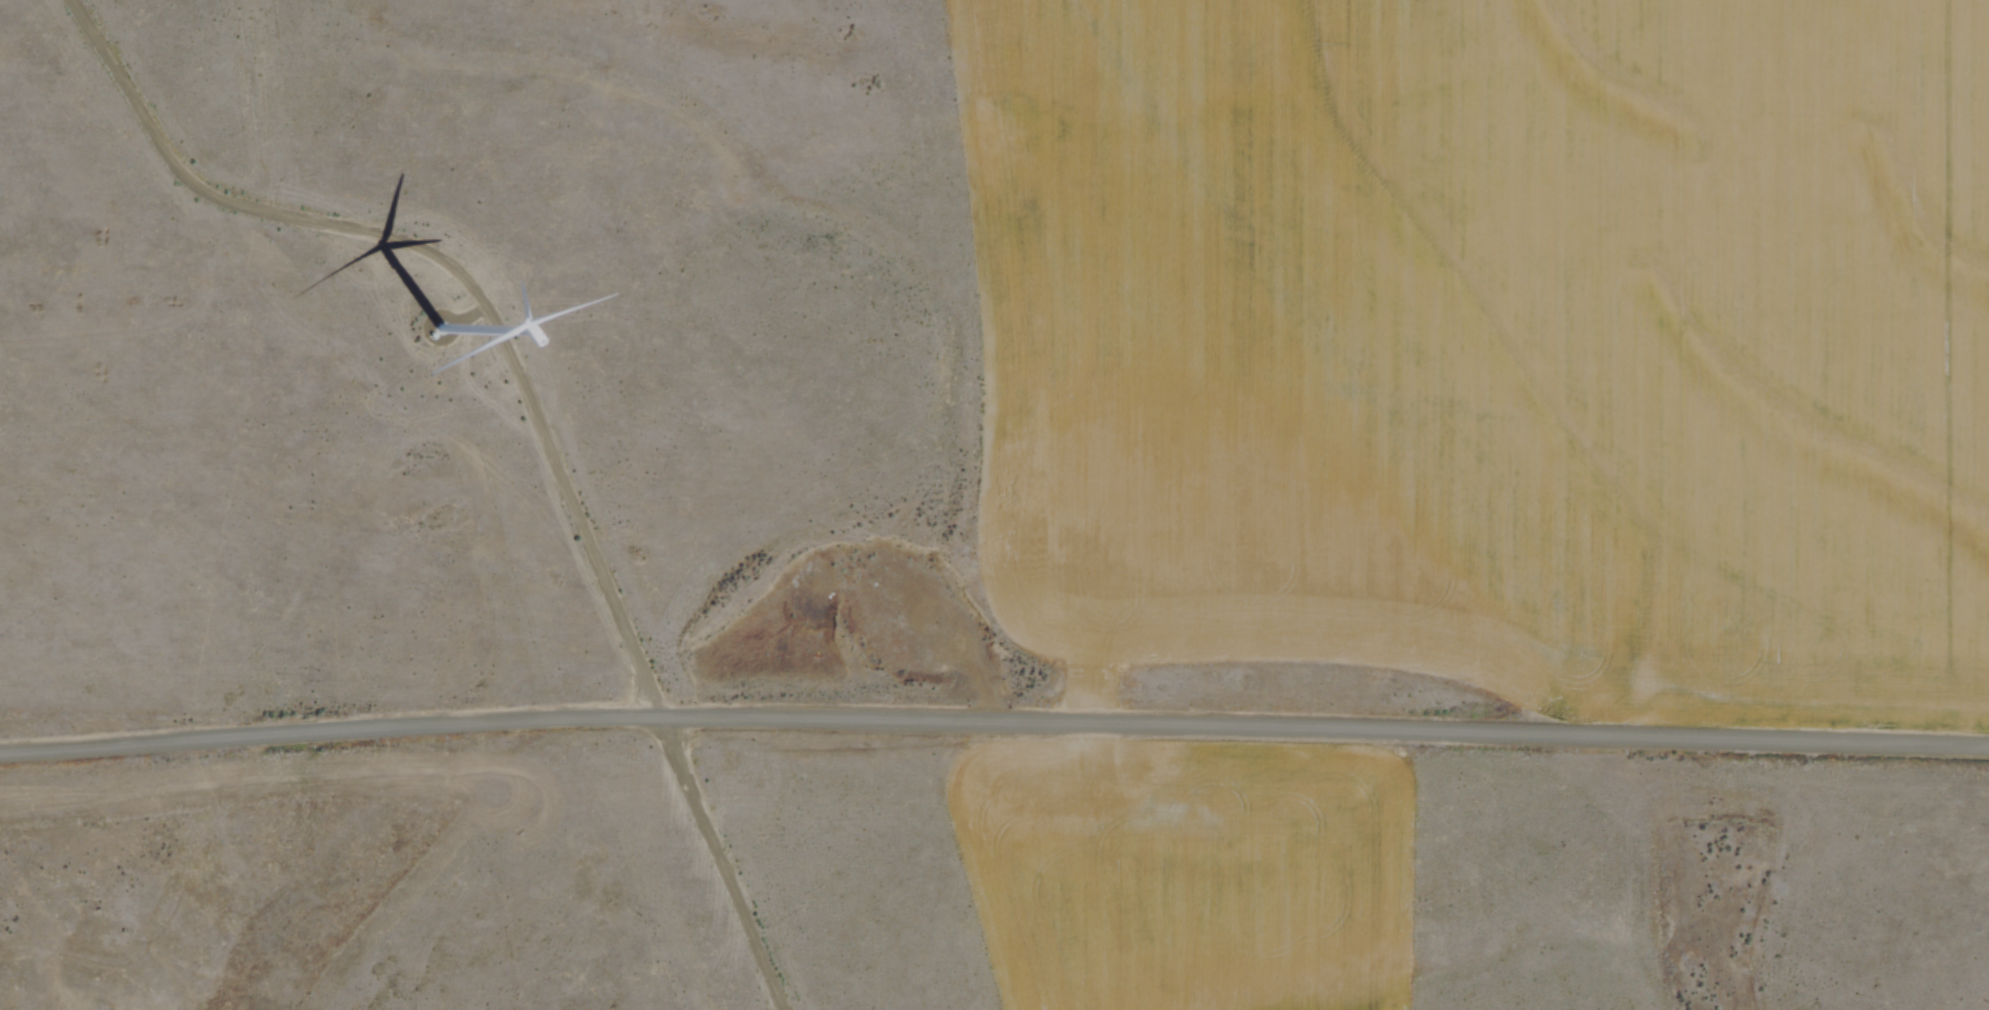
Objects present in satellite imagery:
road: (453, 264)
wind turbine: (439, 329)
road: (994, 718)
road: (716, 859)

